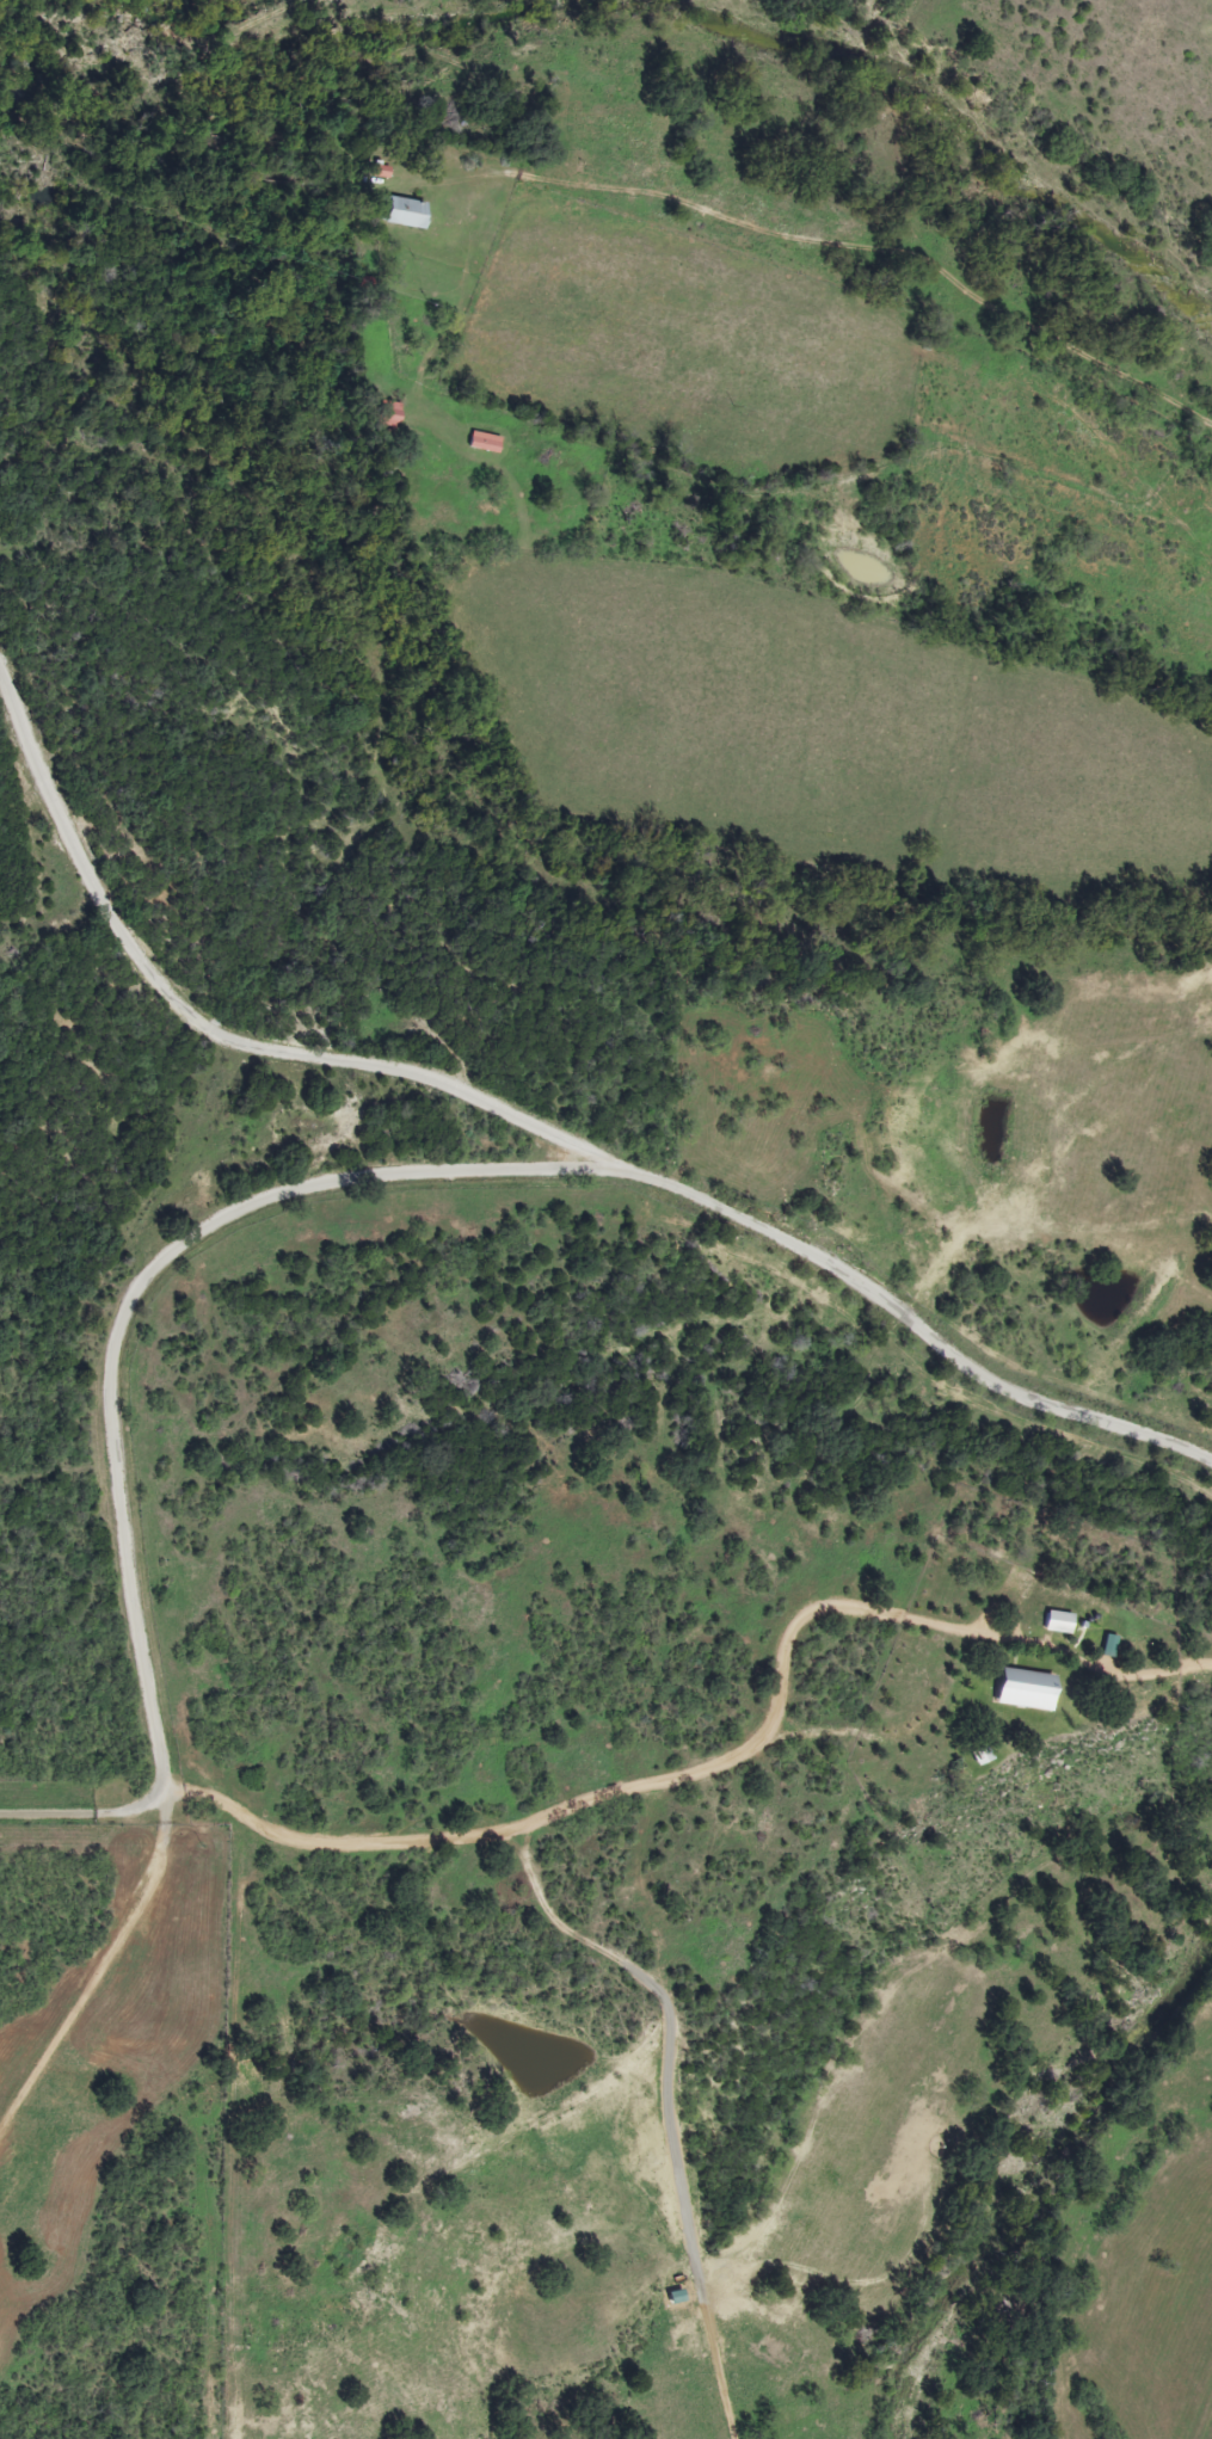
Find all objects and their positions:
building: (410, 213)
building: (491, 442)
road: (539, 1121)
road: (109, 1348)
building: (1015, 1689)
building: (971, 1755)

